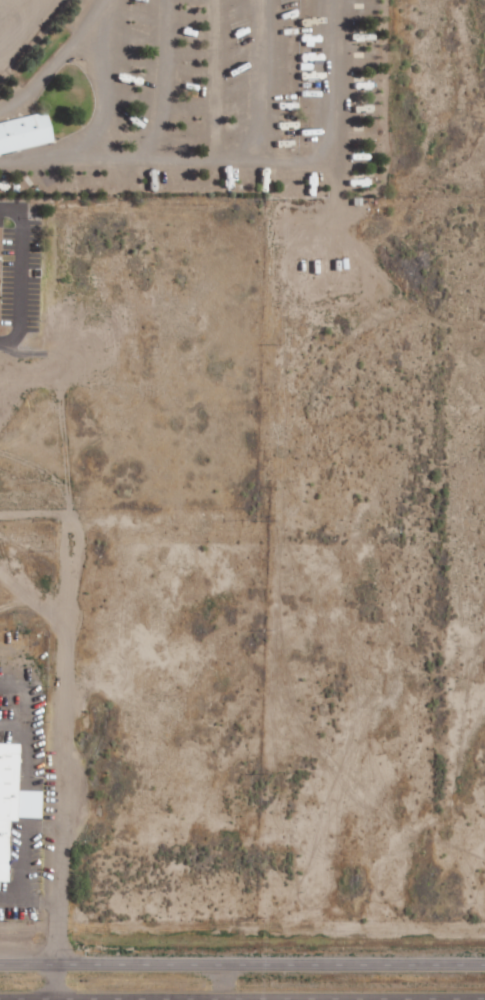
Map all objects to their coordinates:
road: (56, 55)
building: (22, 132)
road: (242, 157)
road: (22, 273)
building: (11, 798)
road: (242, 965)
road: (52, 982)
road: (352, 999)

